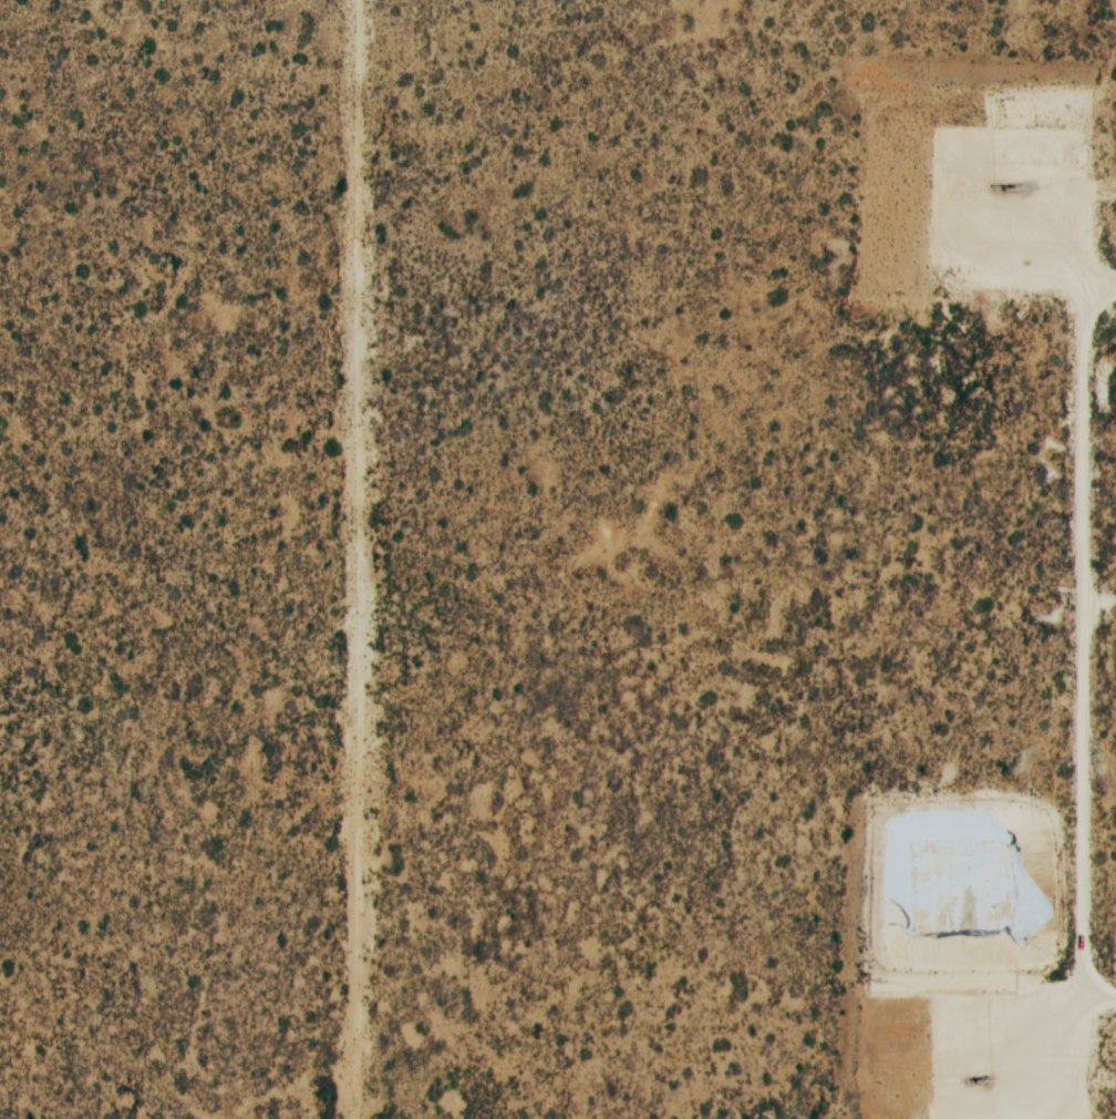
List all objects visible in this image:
road: (1077, 634)

